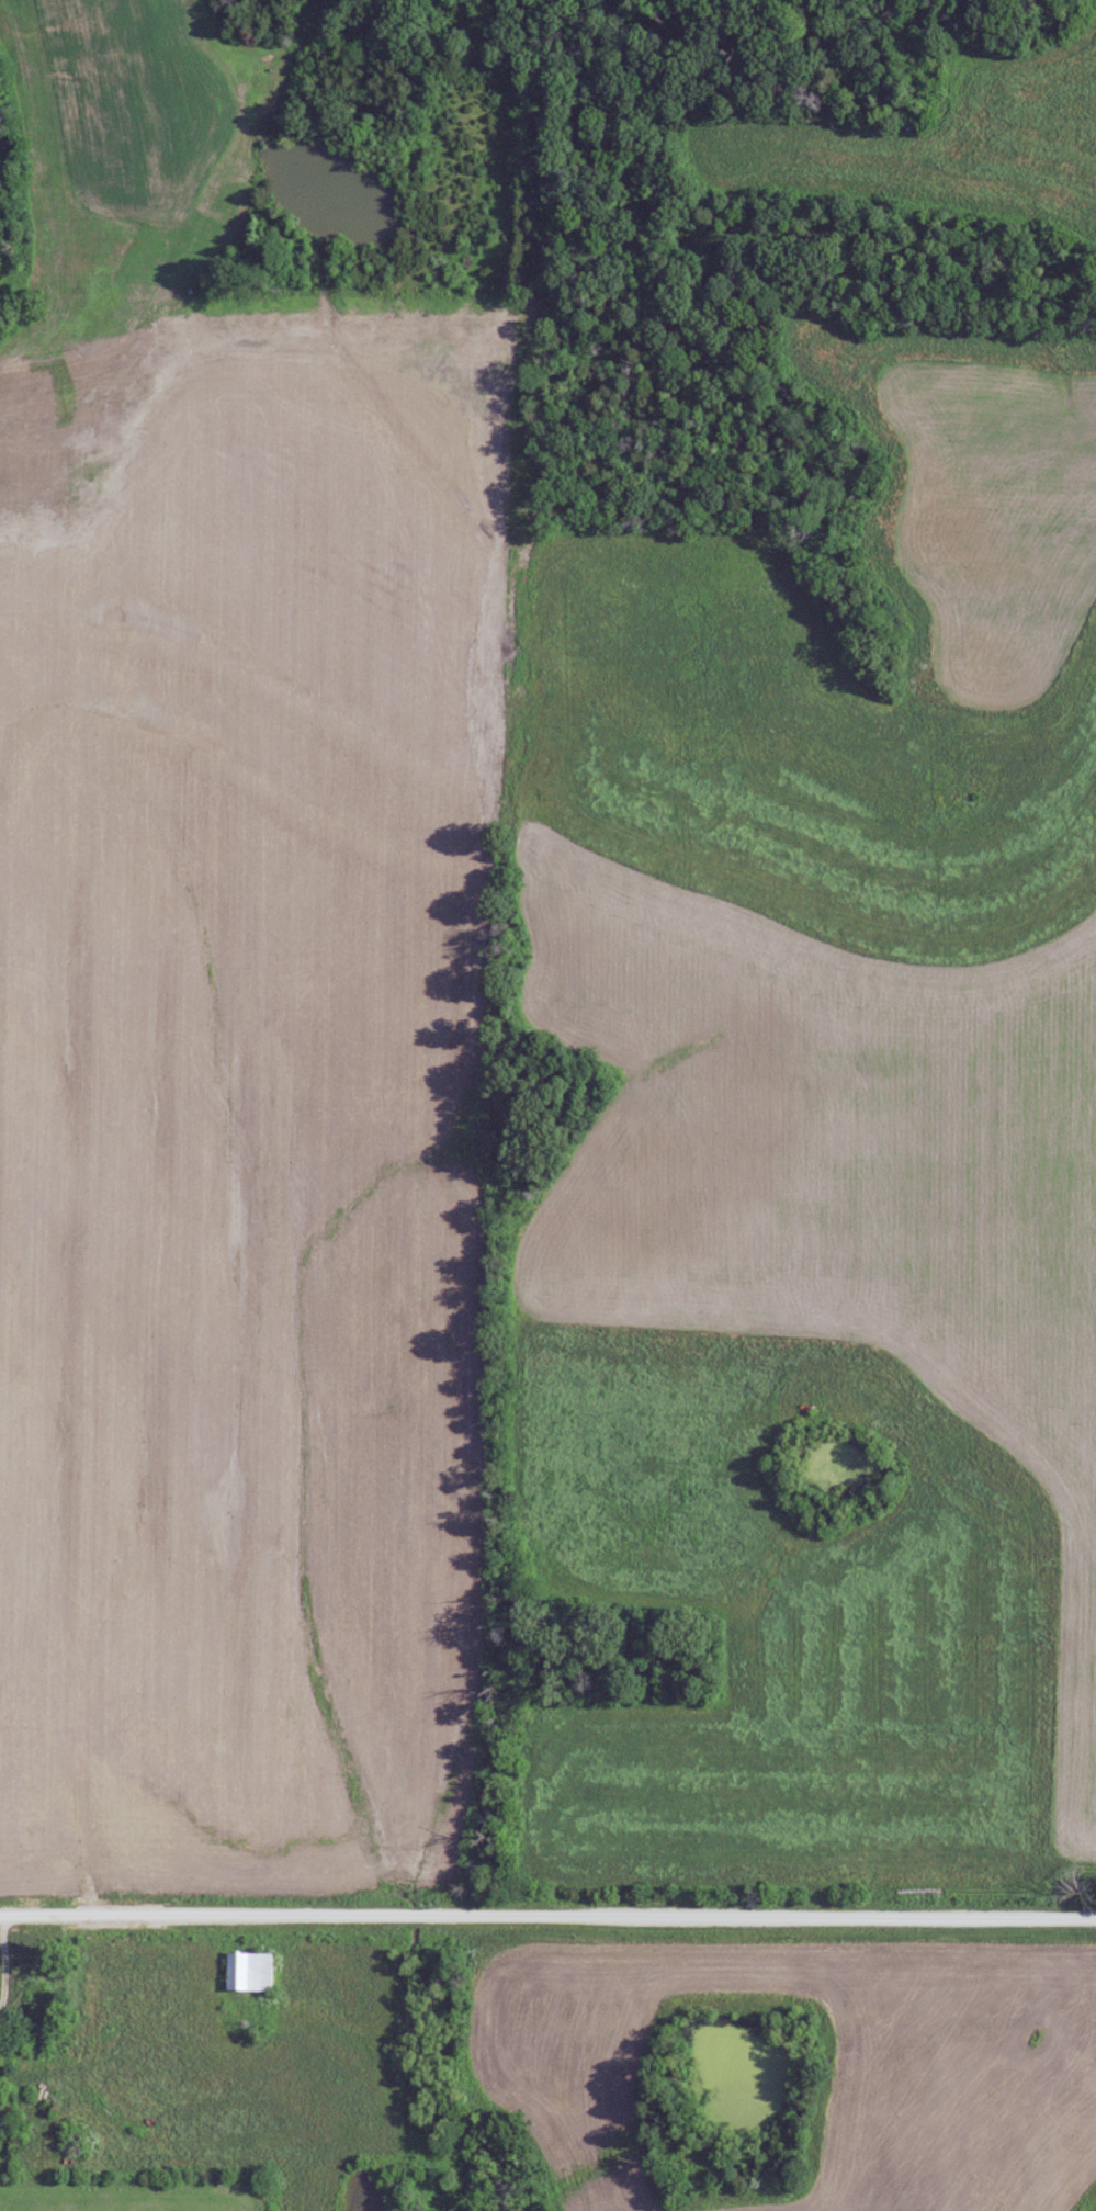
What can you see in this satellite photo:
road: (547, 1914)
building: (247, 1970)

